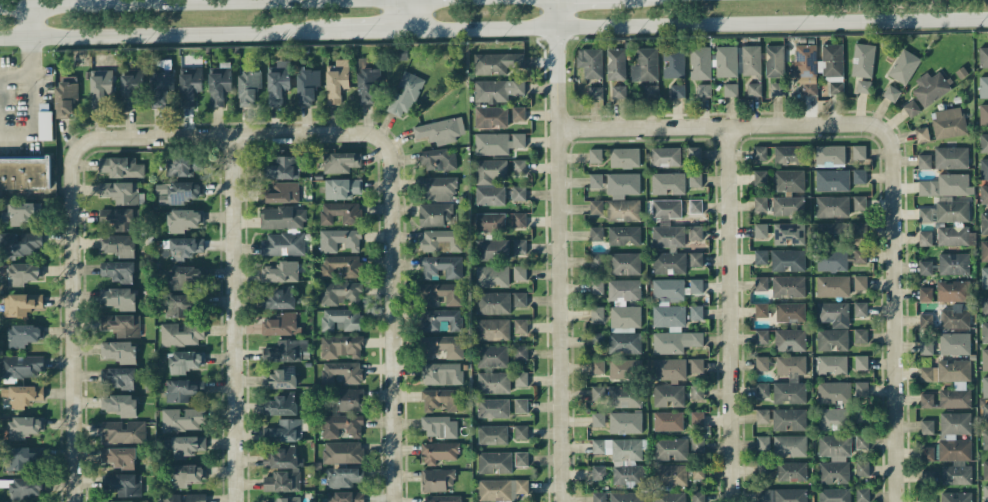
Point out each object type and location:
road: (158, 3)
road: (736, 11)
road: (395, 14)
road: (418, 14)
road: (201, 18)
road: (30, 22)
road: (703, 24)
road: (407, 29)
road: (366, 30)
road: (168, 34)
building: (983, 57)
building: (725, 60)
building: (751, 60)
building: (774, 60)
building: (863, 60)
building: (673, 61)
building: (496, 62)
building: (590, 62)
building: (700, 62)
building: (616, 63)
building: (645, 65)
building: (832, 66)
building: (903, 66)
building: (806, 68)
road: (30, 71)
building: (337, 80)
building: (277, 82)
building: (161, 84)
building: (219, 84)
building: (368, 84)
building: (190, 85)
building: (307, 85)
building: (100, 86)
building: (249, 86)
building: (863, 86)
building: (983, 86)
building: (130, 87)
building: (930, 87)
building: (777, 88)
building: (496, 89)
building: (730, 89)
building: (753, 89)
building: (677, 90)
building: (704, 90)
building: (618, 91)
building: (651, 91)
building: (595, 92)
building: (891, 92)
building: (404, 94)
building: (65, 95)
building: (911, 108)
building: (518, 113)
building: (983, 114)
building: (491, 117)
road: (30, 119)
road: (763, 122)
building: (948, 122)
building: (45, 125)
building: (440, 130)
road: (169, 134)
building: (922, 134)
building: (497, 142)
building: (983, 143)
building: (859, 151)
building: (694, 153)
building: (759, 153)
building: (786, 154)
building: (595, 155)
building: (830, 155)
building: (665, 156)
building: (624, 157)
building: (951, 157)
building: (438, 159)
building: (340, 161)
building: (924, 161)
building: (182, 165)
building: (120, 167)
building: (282, 167)
building: (518, 167)
building: (983, 168)
building: (489, 170)
building: (24, 172)
building: (859, 176)
building: (760, 177)
building: (694, 179)
building: (596, 180)
building: (788, 180)
building: (832, 180)
building: (668, 183)
building: (622, 184)
building: (946, 185)
building: (342, 188)
building: (437, 188)
building: (120, 192)
building: (179, 192)
building: (282, 192)
building: (519, 192)
building: (489, 194)
building: (984, 194)
building: (859, 202)
building: (760, 203)
building: (787, 205)
building: (695, 206)
building: (832, 206)
building: (666, 208)
building: (615, 209)
building: (952, 210)
building: (21, 212)
building: (339, 212)
building: (435, 214)
building: (926, 214)
building: (282, 217)
building: (118, 219)
building: (183, 219)
building: (519, 219)
building: (490, 221)
building: (984, 223)
building: (760, 230)
building: (842, 230)
building: (596, 233)
building: (695, 233)
building: (789, 234)
building: (624, 235)
building: (925, 237)
building: (339, 239)
building: (439, 239)
building: (21, 243)
building: (282, 244)
building: (118, 245)
building: (519, 245)
building: (185, 247)
building: (492, 249)
road: (561, 250)
building: (668, 250)
building: (984, 250)
road: (237, 252)
building: (860, 255)
building: (761, 256)
building: (695, 259)
building: (597, 260)
building: (787, 260)
building: (832, 260)
building: (624, 263)
building: (954, 263)
building: (340, 265)
building: (441, 266)
building: (925, 267)
building: (117, 270)
building: (280, 272)
building: (519, 272)
building: (23, 273)
building: (492, 275)
building: (186, 276)
building: (984, 277)
building: (761, 283)
building: (860, 283)
building: (696, 285)
building: (833, 285)
building: (597, 286)
building: (788, 286)
road: (397, 287)
building: (624, 289)
building: (952, 290)
building: (341, 292)
building: (443, 292)
building: (925, 293)
building: (279, 297)
building: (116, 298)
building: (519, 299)
building: (492, 302)
building: (20, 303)
building: (984, 306)
building: (860, 309)
building: (761, 310)
building: (790, 311)
building: (696, 312)
road: (733, 312)
building: (597, 313)
building: (833, 313)
building: (955, 317)
building: (671, 318)
building: (340, 319)
building: (440, 319)
building: (925, 320)
building: (282, 323)
building: (122, 324)
building: (520, 325)
building: (492, 329)
building: (625, 329)
building: (984, 332)
building: (181, 333)
building: (23, 334)
building: (860, 335)
building: (761, 336)
building: (597, 339)
building: (790, 339)
building: (832, 339)
building: (954, 343)
building: (341, 346)
building: (442, 346)
building: (926, 346)
building: (285, 350)
building: (119, 351)
building: (520, 352)
road: (898, 352)
building: (492, 356)
building: (984, 359)
building: (185, 360)
building: (861, 362)
building: (762, 363)
building: (832, 363)
building: (696, 365)
building: (21, 366)
building: (597, 366)
building: (624, 367)
building: (669, 369)
building: (342, 371)
building: (442, 373)
building: (118, 377)
building: (280, 377)
building: (520, 378)
building: (790, 380)
road: (72, 382)
building: (493, 382)
building: (961, 384)
building: (985, 386)
building: (861, 388)
building: (762, 389)
building: (184, 390)
building: (696, 391)
building: (834, 391)
building: (22, 394)
building: (617, 395)
building: (668, 395)
building: (351, 399)
building: (442, 399)
building: (926, 400)
building: (120, 404)
building: (280, 404)
building: (520, 405)
building: (493, 407)
building: (985, 413)
building: (762, 415)
building: (861, 415)
building: (697, 418)
building: (833, 418)
building: (181, 419)
building: (598, 419)
building: (789, 419)
building: (668, 421)
building: (625, 422)
building: (341, 425)
building: (23, 426)
building: (439, 426)
building: (927, 426)
building: (284, 430)
building: (123, 431)
building: (521, 431)
building: (492, 434)
road: (239, 436)
building: (985, 439)
building: (861, 441)
building: (762, 442)
building: (187, 445)
building: (789, 445)
building: (697, 446)
building: (955, 447)
building: (619, 448)
building: (671, 448)
building: (439, 451)
building: (341, 452)
building: (927, 453)
building: (119, 456)
building: (22, 457)
building: (282, 458)
building: (521, 458)
building: (834, 458)
building: (494, 461)
building: (862, 468)
building: (985, 468)
building: (763, 469)
building: (697, 471)
building: (791, 471)
building: (598, 472)
building: (186, 474)
road: (399, 475)
building: (628, 475)
building: (670, 475)
building: (927, 475)
building: (343, 476)
building: (437, 479)
building: (282, 481)
building: (123, 483)
building: (501, 488)
building: (985, 493)
building: (834, 494)
building: (862, 494)
building: (782, 495)
building: (626, 496)
building: (669, 496)
building: (698, 496)
building: (956, 496)
building: (184, 497)
building: (598, 497)
building: (443, 498)
building: (285, 499)
building: (927, 500)
building: (132, 501)

